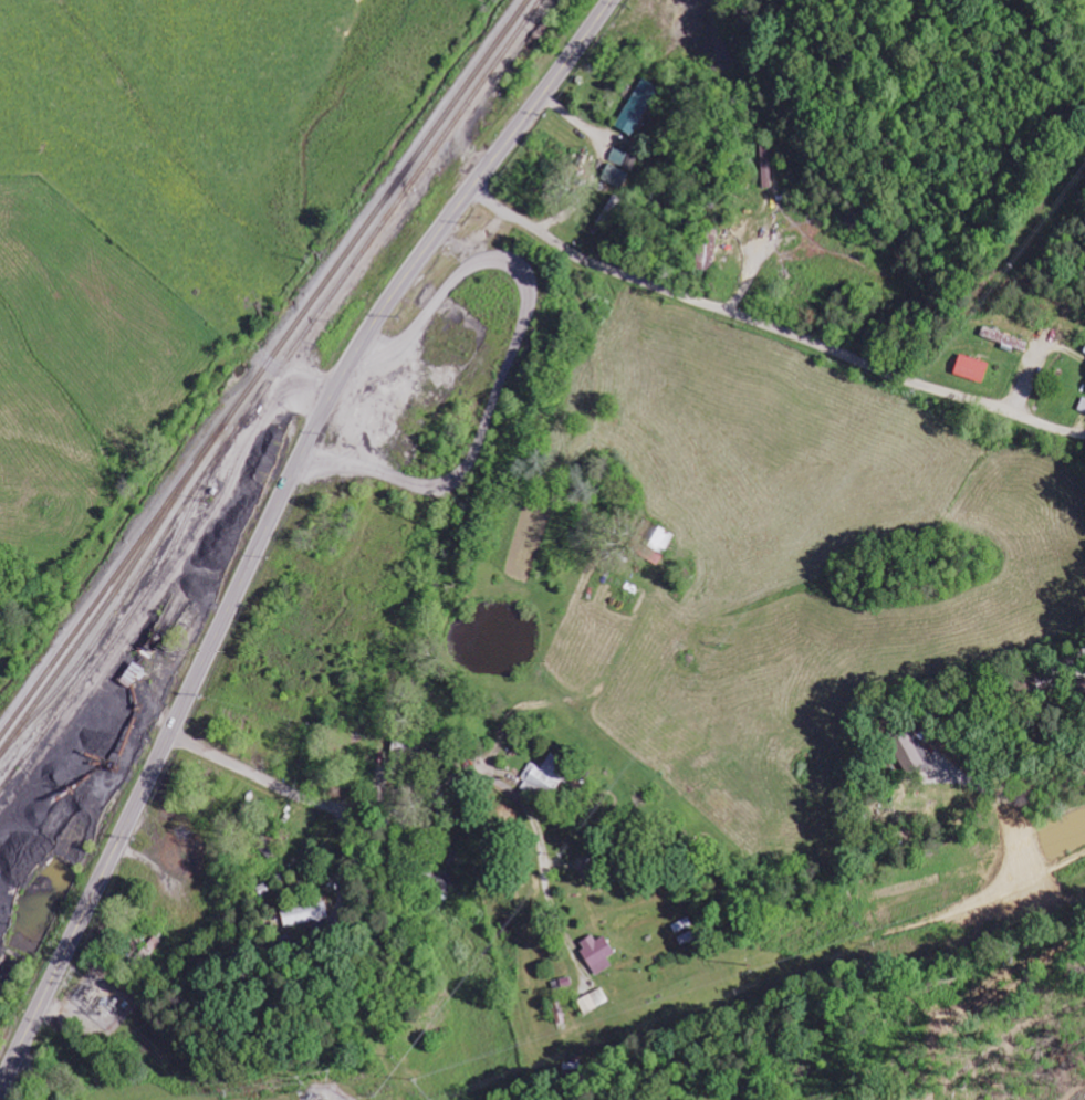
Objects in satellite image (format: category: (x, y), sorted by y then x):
building: (638, 106)
building: (618, 156)
building: (616, 176)
road: (766, 325)
building: (1004, 339)
building: (1084, 350)
building: (973, 368)
railway: (263, 370)
railway: (278, 371)
road: (269, 523)
railway: (96, 621)
railway: (125, 621)
building: (544, 778)
road: (382, 798)
building: (447, 882)
building: (306, 913)
building: (599, 952)
power substation: (101, 998)
building: (594, 999)
building: (560, 1013)
power substation: (327, 1093)

